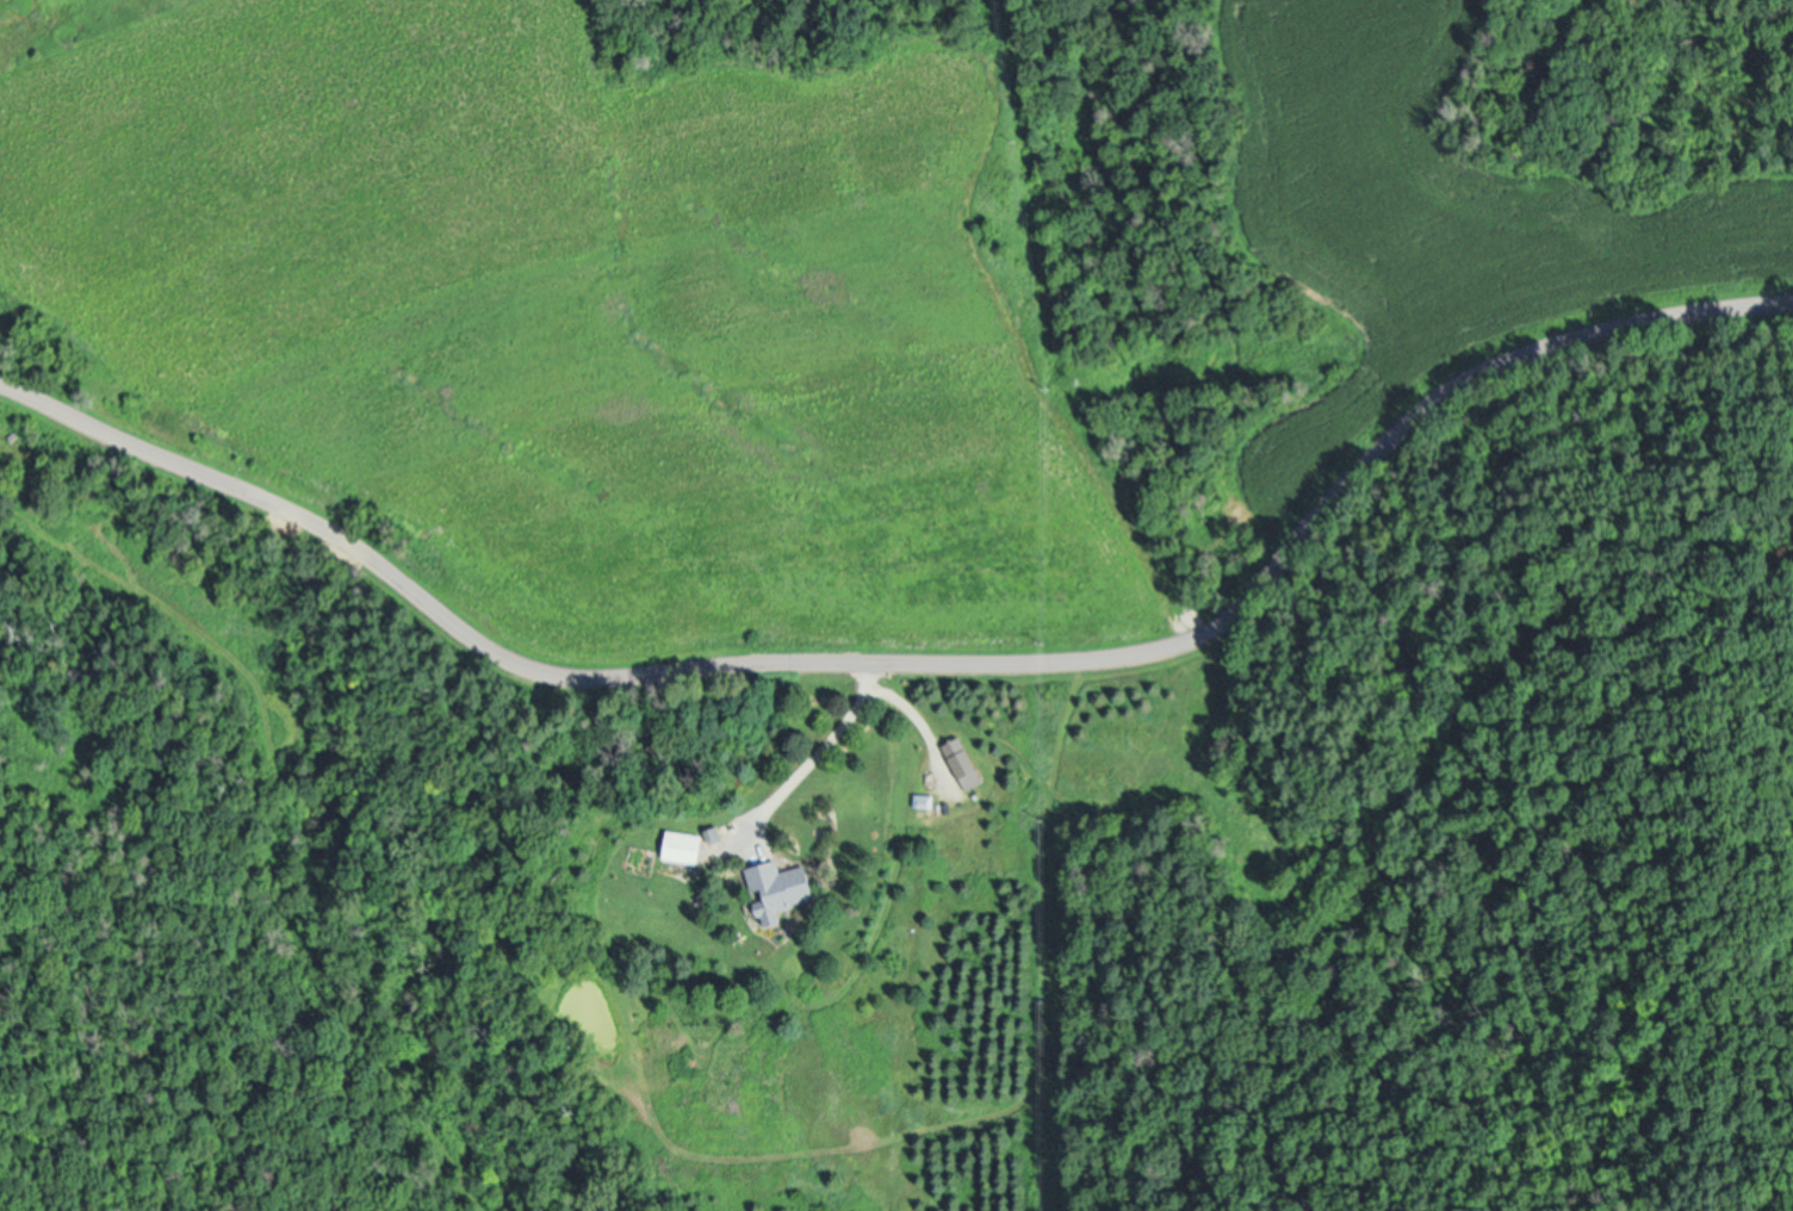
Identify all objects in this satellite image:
road: (912, 653)
road: (919, 715)
road: (819, 747)
building: (963, 762)
building: (689, 845)
building: (784, 884)

